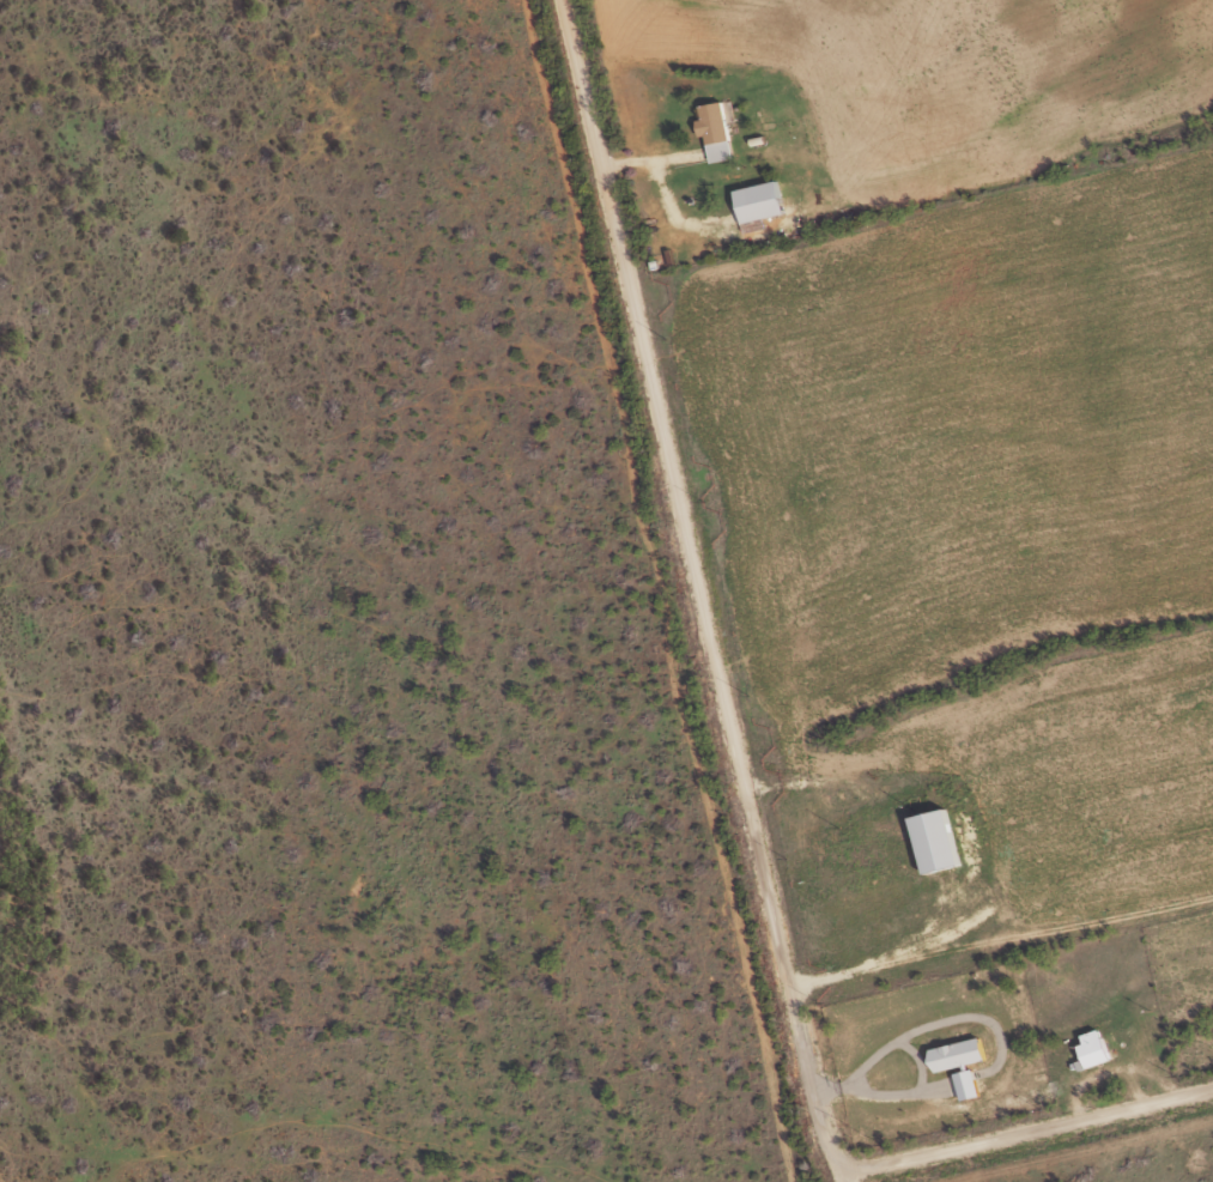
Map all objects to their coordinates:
road: (902, 83)
building: (714, 128)
building: (753, 200)
road: (683, 586)
building: (930, 839)
building: (1087, 1049)
building: (951, 1054)
building: (962, 1084)
road: (1021, 1126)
road: (387, 1132)
road: (829, 1172)

